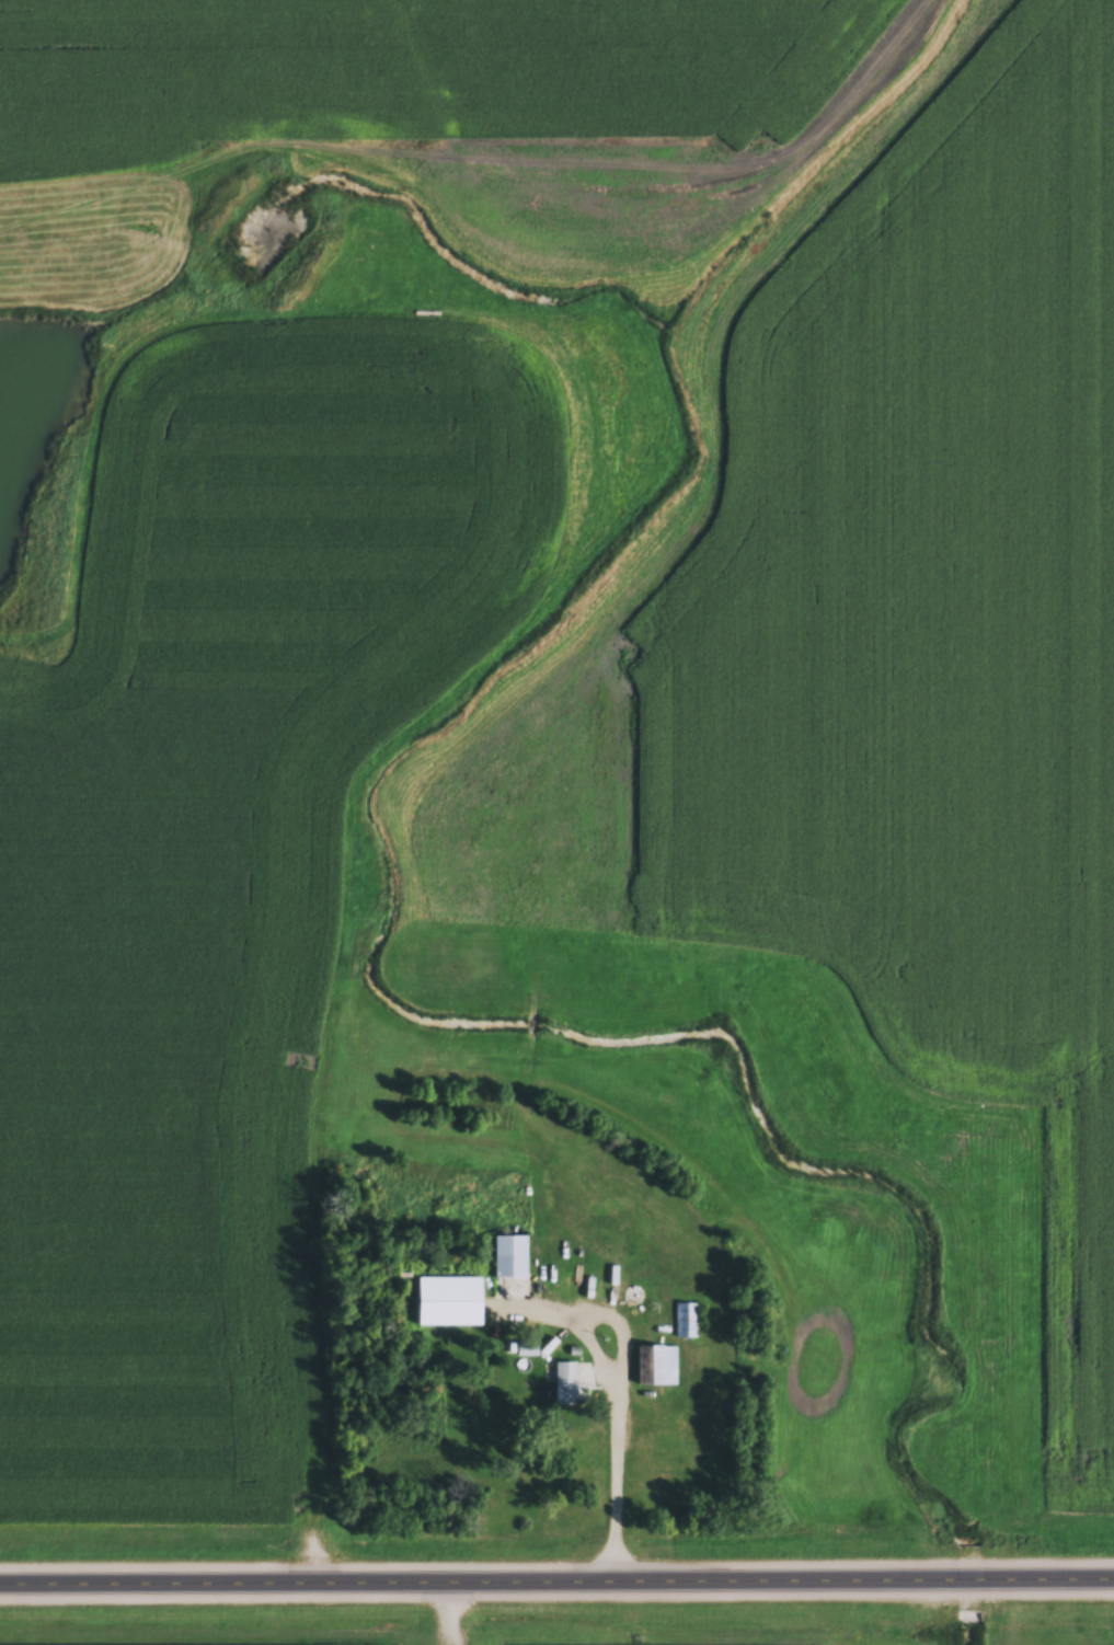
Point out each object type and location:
building: (510, 1258)
building: (685, 1322)
building: (656, 1368)
building: (565, 1385)
road: (618, 1390)
building: (664, 1445)
road: (556, 1575)

